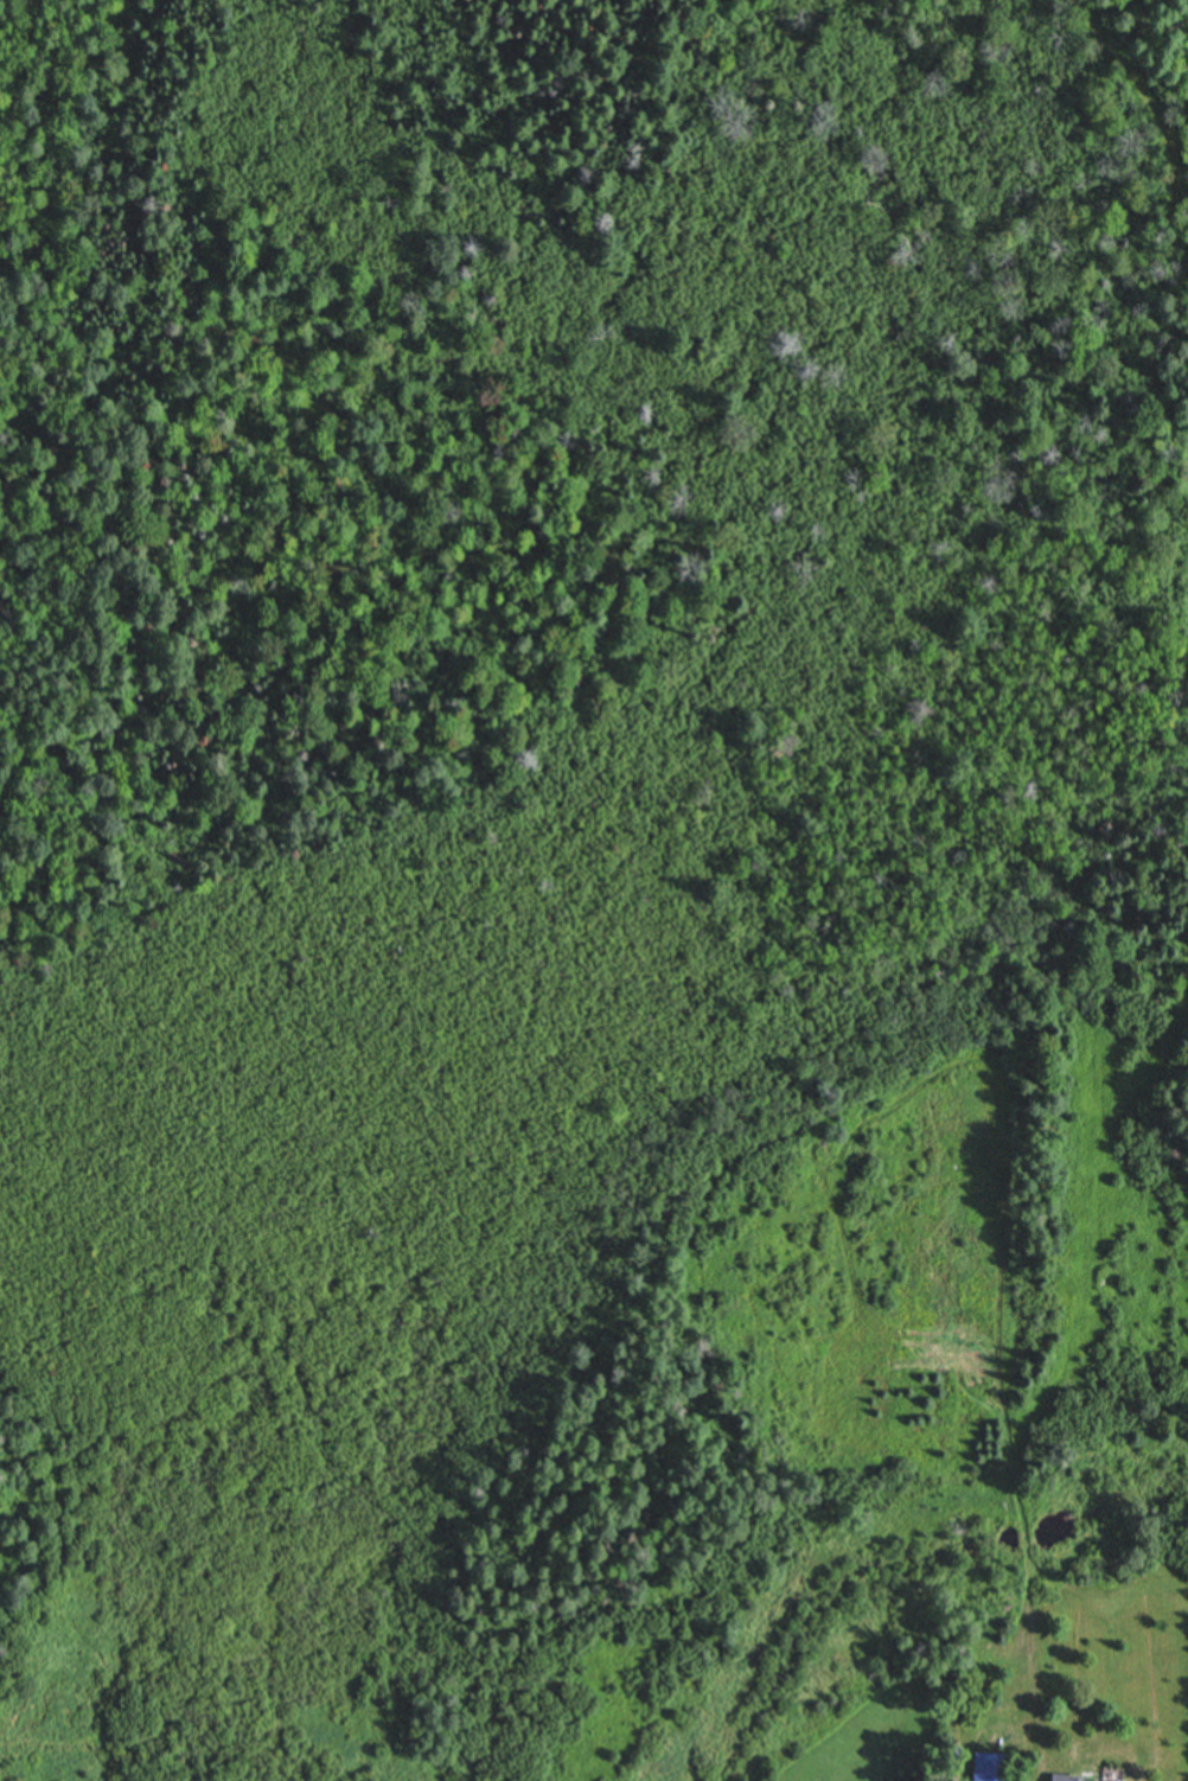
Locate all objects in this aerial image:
building: (989, 1768)
building: (1049, 1780)

